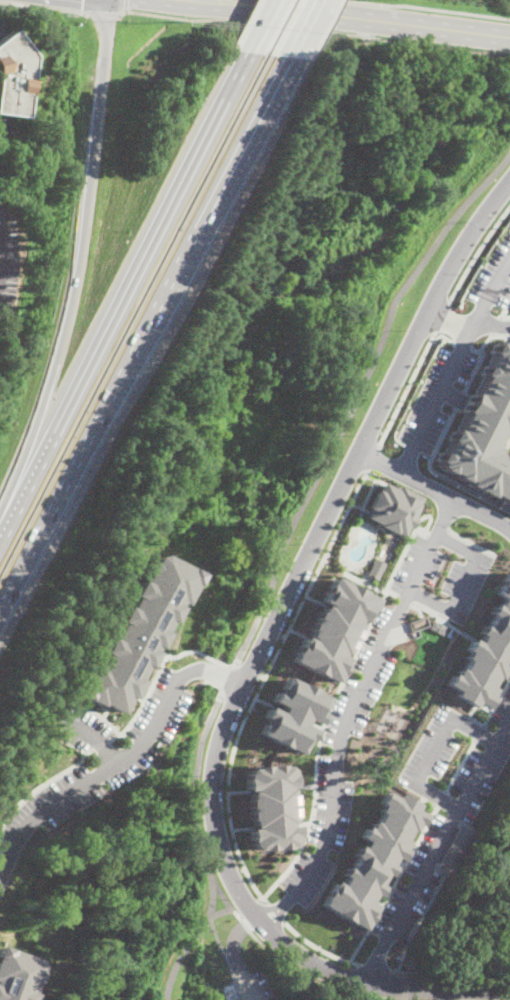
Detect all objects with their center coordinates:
road: (125, 5)
road: (42, 7)
road: (430, 7)
road: (102, 13)
road: (367, 17)
parking lot: (2, 18)
road: (265, 26)
road: (307, 29)
road: (314, 30)
building: (14, 75)
road: (6, 131)
parking lot: (10, 136)
road: (477, 252)
parking lot: (7, 266)
road: (76, 268)
road: (126, 294)
road: (442, 317)
road: (449, 319)
road: (490, 326)
road: (151, 340)
road: (453, 366)
road: (405, 389)
road: (356, 397)
building: (482, 427)
park: (292, 456)
road: (372, 459)
road: (434, 489)
building: (391, 508)
road: (436, 529)
road: (472, 541)
building: (375, 568)
road: (464, 585)
building: (436, 626)
building: (330, 628)
building: (135, 634)
building: (485, 650)
road: (254, 662)
road: (216, 675)
road: (227, 680)
road: (260, 682)
road: (234, 684)
road: (496, 699)
road: (328, 702)
road: (349, 712)
building: (288, 715)
road: (340, 727)
road: (478, 732)
road: (94, 737)
road: (434, 749)
road: (459, 765)
road: (101, 773)
road: (439, 798)
road: (195, 805)
building: (267, 808)
building: (455, 849)
road: (435, 850)
building: (370, 862)
road: (396, 876)
road: (221, 893)
road: (250, 906)
road: (221, 911)
road: (273, 912)
road: (316, 947)
road: (182, 954)
road: (235, 955)
park: (212, 966)
road: (373, 967)
road: (292, 969)
road: (449, 971)
building: (15, 977)
parking lot: (251, 988)

